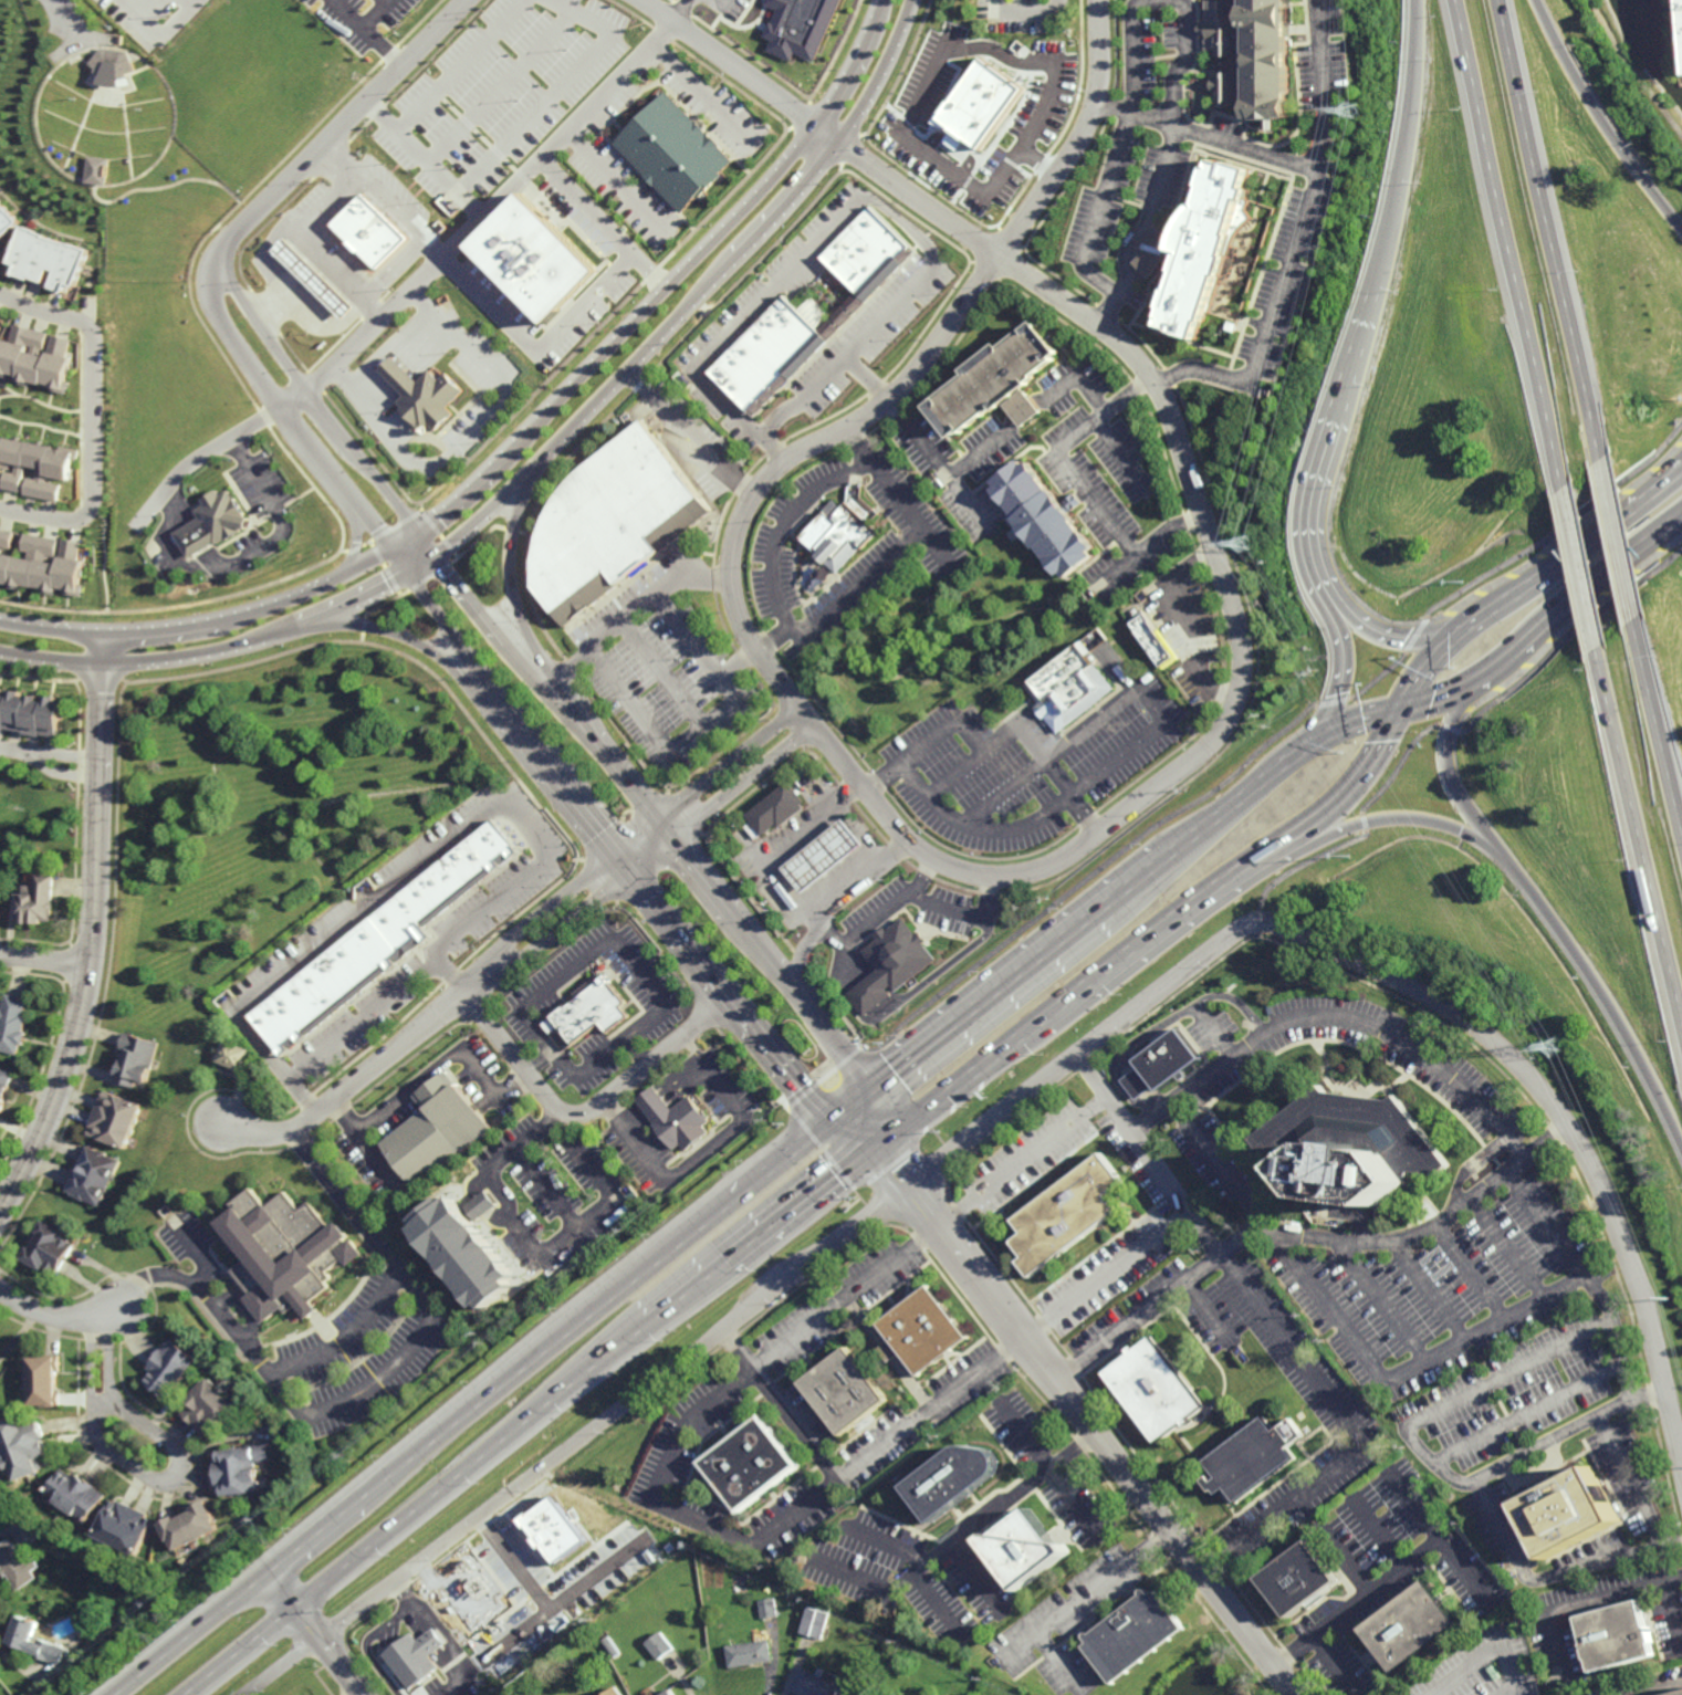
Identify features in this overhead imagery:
road: (718, 1)
road: (1167, 1)
road: (1030, 8)
road: (678, 10)
road: (373, 13)
parking lot: (160, 18)
road: (74, 19)
building: (1225, 25)
building: (798, 27)
road: (160, 31)
road: (364, 32)
building: (1270, 59)
road: (458, 65)
building: (112, 67)
road: (1633, 69)
road: (1324, 84)
road: (498, 87)
road: (558, 88)
building: (1224, 88)
road: (919, 92)
road: (694, 96)
building: (982, 106)
power tower: (1352, 111)
park: (104, 117)
road: (1601, 118)
road: (821, 128)
road: (1204, 135)
road: (326, 136)
road: (1080, 138)
road: (1407, 146)
building: (670, 154)
road: (534, 155)
road: (338, 156)
road: (420, 158)
building: (96, 170)
road: (92, 185)
road: (612, 185)
road: (324, 201)
road: (386, 205)
road: (1099, 210)
road: (477, 218)
building: (6, 219)
road: (905, 223)
road: (1143, 229)
road: (1552, 230)
building: (366, 231)
road: (1509, 240)
building: (1199, 248)
building: (873, 252)
road: (742, 253)
building: (531, 259)
building: (48, 260)
road: (325, 266)
road: (388, 269)
building: (312, 279)
road: (297, 285)
road: (777, 285)
building: (858, 302)
road: (276, 304)
building: (846, 315)
road: (1271, 321)
building: (833, 327)
road: (351, 344)
road: (852, 353)
road: (535, 355)
building: (771, 355)
road: (1357, 356)
road: (395, 357)
building: (36, 358)
road: (866, 380)
building: (1001, 383)
road: (1089, 394)
road: (1128, 394)
building: (418, 397)
road: (314, 408)
road: (740, 415)
road: (92, 418)
road: (288, 422)
road: (1012, 427)
road: (1080, 429)
road: (468, 435)
road: (689, 436)
road: (519, 439)
road: (1119, 454)
road: (199, 460)
road: (938, 464)
building: (35, 468)
road: (1676, 473)
road: (885, 477)
road: (341, 502)
road: (1098, 503)
road: (1312, 508)
building: (221, 517)
building: (1047, 519)
road: (783, 522)
building: (610, 523)
building: (842, 529)
traffic signals: (417, 532)
road: (1172, 538)
building: (195, 540)
road: (1621, 540)
power tower: (1247, 543)
traffic signals: (388, 548)
road: (261, 550)
traffic signals: (432, 554)
road: (1628, 554)
road: (1571, 555)
building: (42, 564)
road: (1585, 565)
traffic signals: (405, 571)
road: (1118, 572)
road: (859, 573)
road: (513, 603)
road: (332, 610)
road: (1183, 625)
road: (491, 628)
traffic signals: (1467, 628)
road: (404, 637)
road: (691, 637)
road: (1392, 637)
road: (1528, 638)
building: (1160, 641)
road: (104, 651)
road: (51, 663)
road: (568, 663)
road: (1428, 663)
road: (666, 672)
power tower: (1315, 672)
road: (1341, 674)
building: (1076, 680)
road: (626, 693)
road: (578, 694)
road: (1441, 695)
traffic signals: (1399, 709)
building: (31, 711)
road: (1660, 716)
road: (1350, 722)
road: (1449, 729)
road: (1275, 741)
road: (1142, 742)
road: (994, 744)
traffic signals: (1306, 746)
road: (20, 754)
road: (71, 754)
road: (1444, 765)
road: (70, 771)
road: (957, 777)
road: (1349, 789)
road: (1235, 804)
building: (777, 810)
road: (489, 812)
road: (1386, 819)
traffic signals: (658, 820)
road: (1642, 827)
road: (642, 833)
road: (865, 834)
road: (518, 838)
traffic signals: (673, 839)
road: (607, 840)
road: (793, 846)
road: (658, 851)
traffic signals: (618, 854)
building: (825, 856)
gas station: (825, 856)
traffic signals: (634, 872)
road: (992, 876)
road: (1133, 881)
building: (40, 900)
road: (826, 902)
road: (727, 904)
building: (1, 908)
road: (949, 909)
road: (1153, 930)
road: (833, 938)
building: (383, 941)
road: (95, 951)
road: (623, 954)
road: (46, 960)
building: (891, 963)
road: (449, 976)
road: (1601, 990)
road: (882, 998)
road: (978, 1004)
building: (588, 1013)
road: (1336, 1017)
building: (14, 1023)
road: (1118, 1023)
road: (1166, 1027)
road: (1214, 1033)
power tower: (1557, 1049)
road: (844, 1050)
road: (635, 1051)
building: (233, 1055)
building: (136, 1059)
road: (445, 1060)
road: (696, 1060)
building: (1162, 1065)
road: (822, 1067)
road: (365, 1074)
road: (960, 1080)
building: (4, 1085)
road: (797, 1086)
road: (664, 1098)
traffic signals: (852, 1103)
road: (588, 1110)
building: (115, 1119)
building: (675, 1119)
road: (866, 1122)
building: (438, 1131)
road: (361, 1142)
traffic signals: (881, 1142)
road: (819, 1145)
building: (1351, 1147)
road: (792, 1151)
road: (896, 1162)
road: (887, 1168)
road: (683, 1169)
road: (1462, 1169)
building: (93, 1175)
road: (546, 1187)
road: (804, 1203)
building: (1066, 1215)
road: (1306, 1234)
road: (529, 1242)
building: (49, 1248)
road: (1507, 1248)
building: (469, 1249)
road: (194, 1252)
building: (285, 1252)
road: (1472, 1272)
road: (1585, 1278)
road: (1427, 1290)
road: (690, 1295)
road: (1377, 1300)
power tower: (1669, 1300)
road: (245, 1307)
road: (1209, 1314)
road: (59, 1316)
road: (1346, 1331)
building: (922, 1332)
road: (1279, 1333)
road: (335, 1343)
road: (889, 1351)
parking lot: (359, 1354)
building: (170, 1370)
road: (376, 1378)
building: (45, 1382)
building: (1152, 1390)
building: (845, 1393)
road: (102, 1401)
road: (777, 1405)
building: (210, 1410)
road: (1527, 1414)
road: (579, 1438)
road: (426, 1447)
building: (23, 1448)
road: (1425, 1457)
building: (1252, 1461)
building: (748, 1467)
road: (1049, 1471)
building: (240, 1472)
road: (165, 1480)
building: (952, 1480)
road: (1630, 1483)
building: (76, 1497)
road: (666, 1509)
road: (419, 1510)
building: (1565, 1511)
building: (191, 1528)
building: (124, 1529)
building: (555, 1530)
road: (957, 1538)
road: (1438, 1538)
road: (881, 1544)
building: (1026, 1552)
road: (1341, 1560)
building: (552, 1561)
building: (18, 1563)
road: (1465, 1576)
road: (1550, 1576)
road: (975, 1579)
building: (1298, 1581)
building: (106, 1586)
road: (1084, 1593)
building: (791, 1604)
road: (1577, 1604)
building: (480, 1605)
building: (767, 1607)
road: (938, 1608)
road: (545, 1610)
road: (1673, 1613)
building: (816, 1621)
building: (1410, 1629)
road: (315, 1634)
road: (515, 1634)
building: (1129, 1636)
building: (1617, 1638)
building: (36, 1639)
road: (447, 1639)
road: (366, 1643)
building: (658, 1644)
building: (613, 1649)
road: (1490, 1650)
building: (751, 1652)
building: (646, 1654)
building: (414, 1657)
road: (1061, 1663)
road: (1335, 1666)
road: (1465, 1683)
building: (821, 1684)
road: (1660, 1688)
building: (613, 1692)
building: (667, 1692)
building: (1673, 1693)

